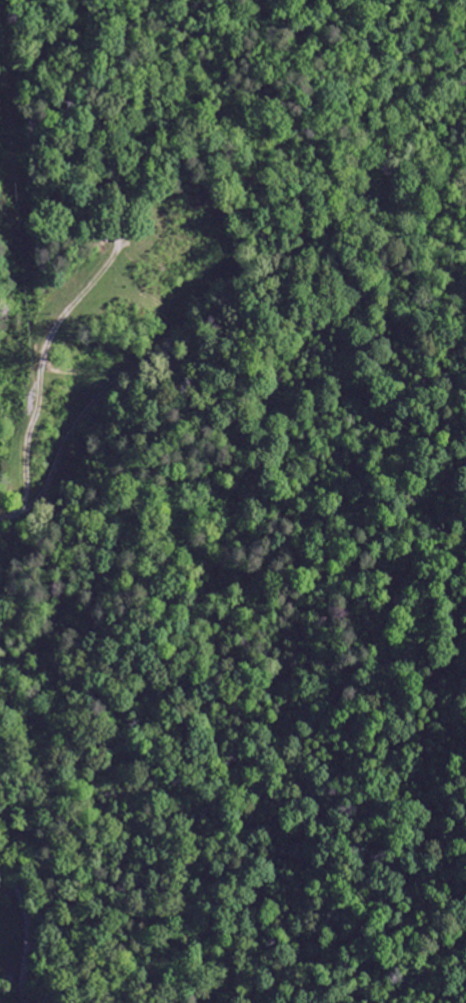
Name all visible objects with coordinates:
road: (26, 933)

